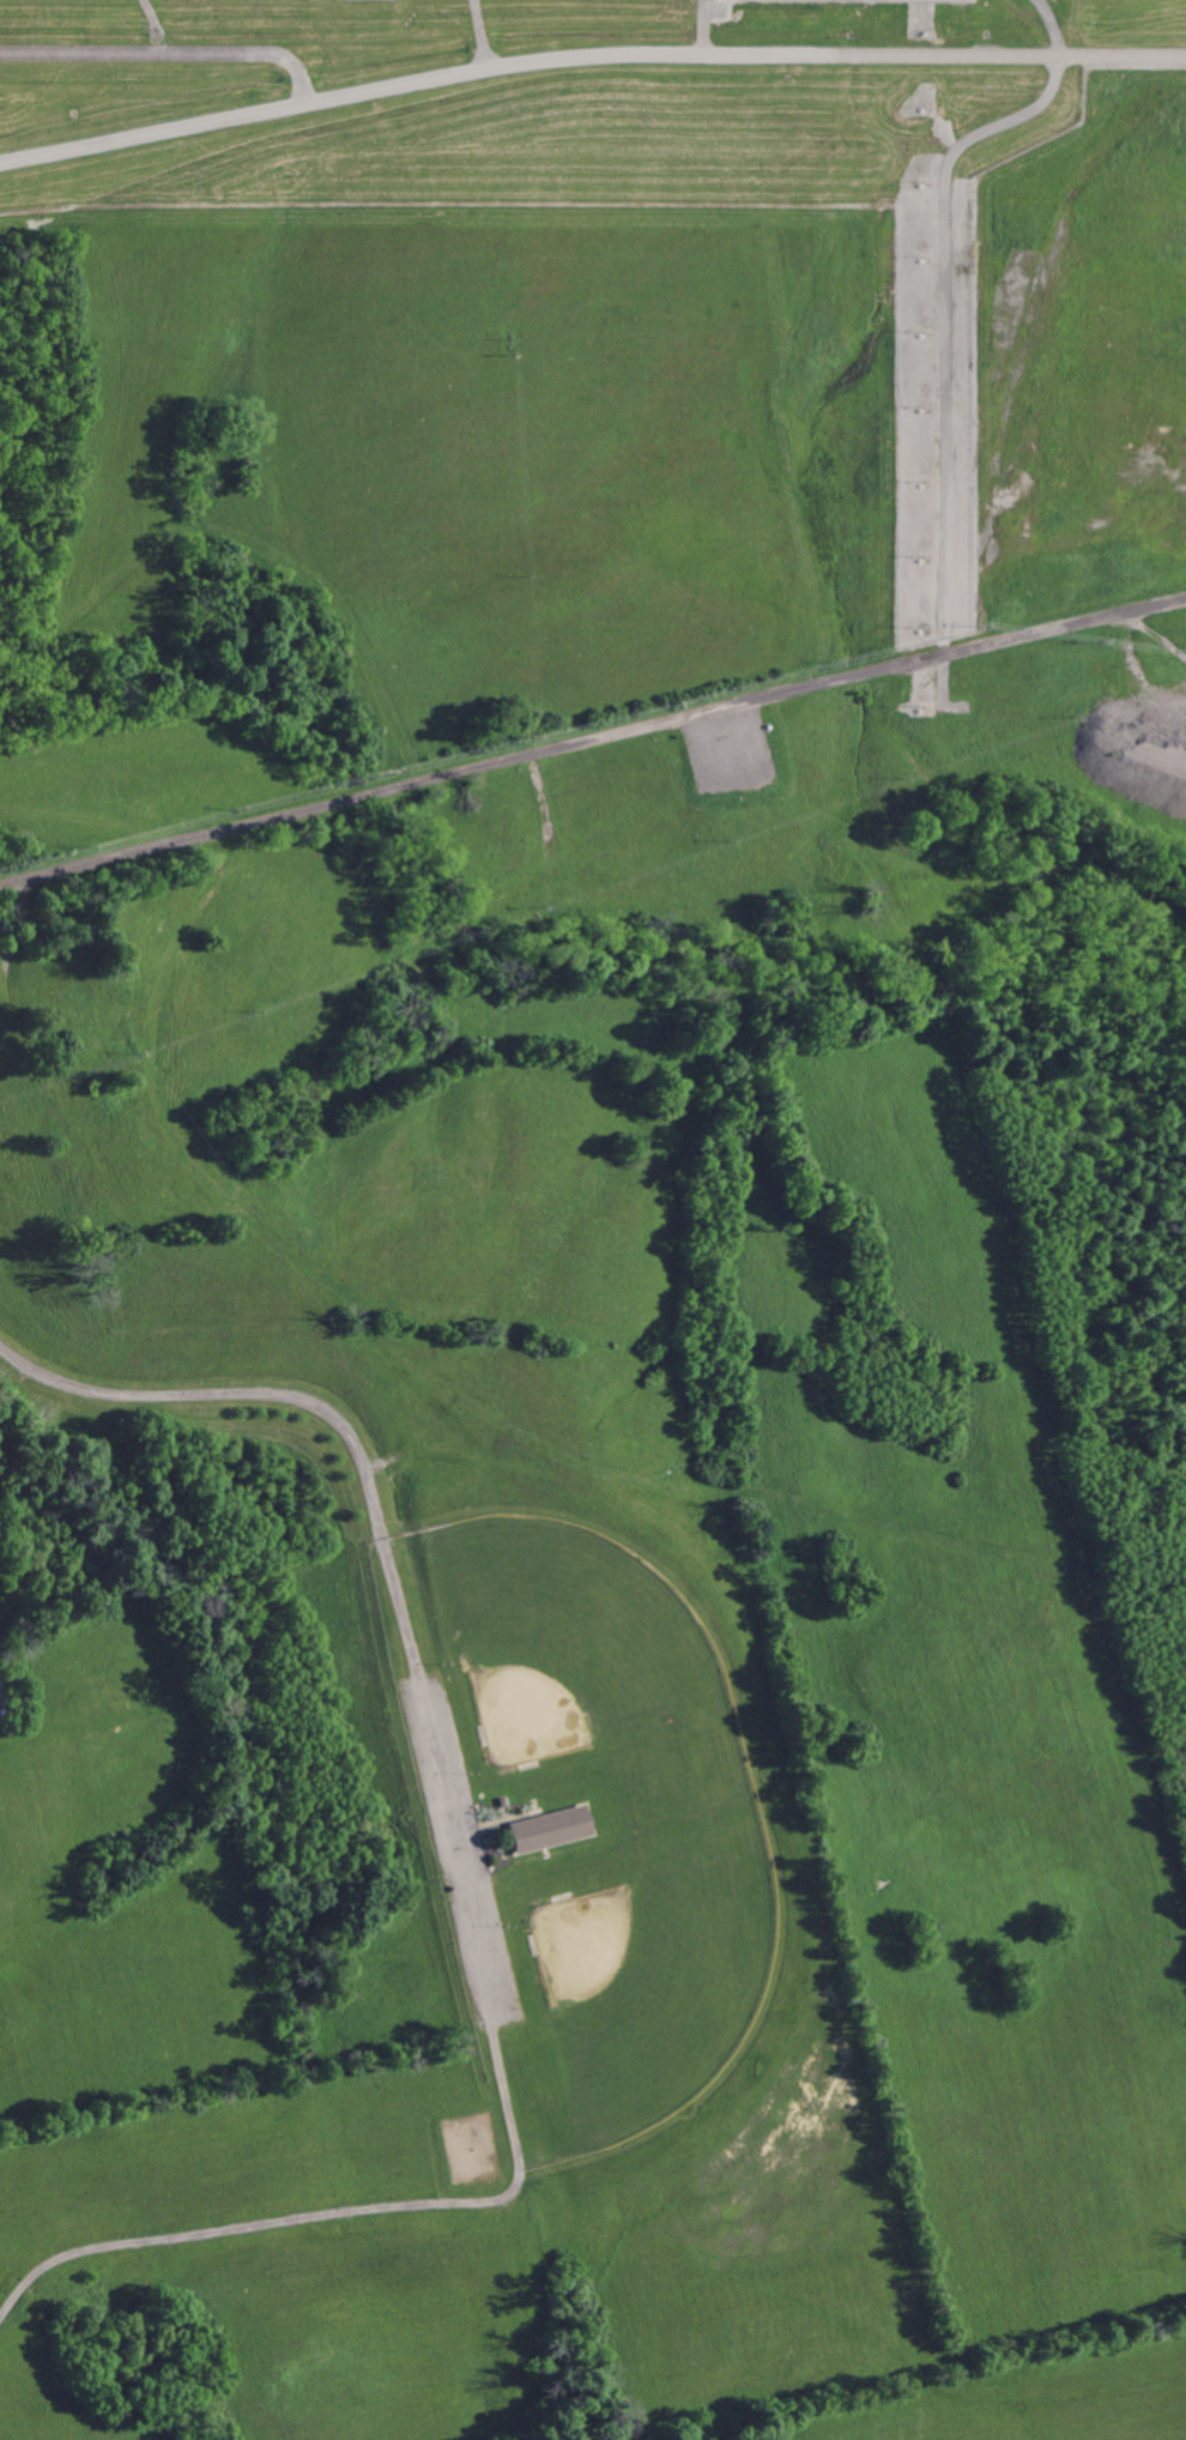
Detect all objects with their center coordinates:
road: (702, 26)
road: (985, 28)
road: (480, 32)
road: (165, 54)
road: (587, 54)
airport: (607, 150)
road: (937, 283)
road: (936, 647)
road: (592, 739)
road: (386, 1542)
park: (569, 1642)
building: (556, 1826)
parking lot: (461, 1854)
park: (646, 1969)

